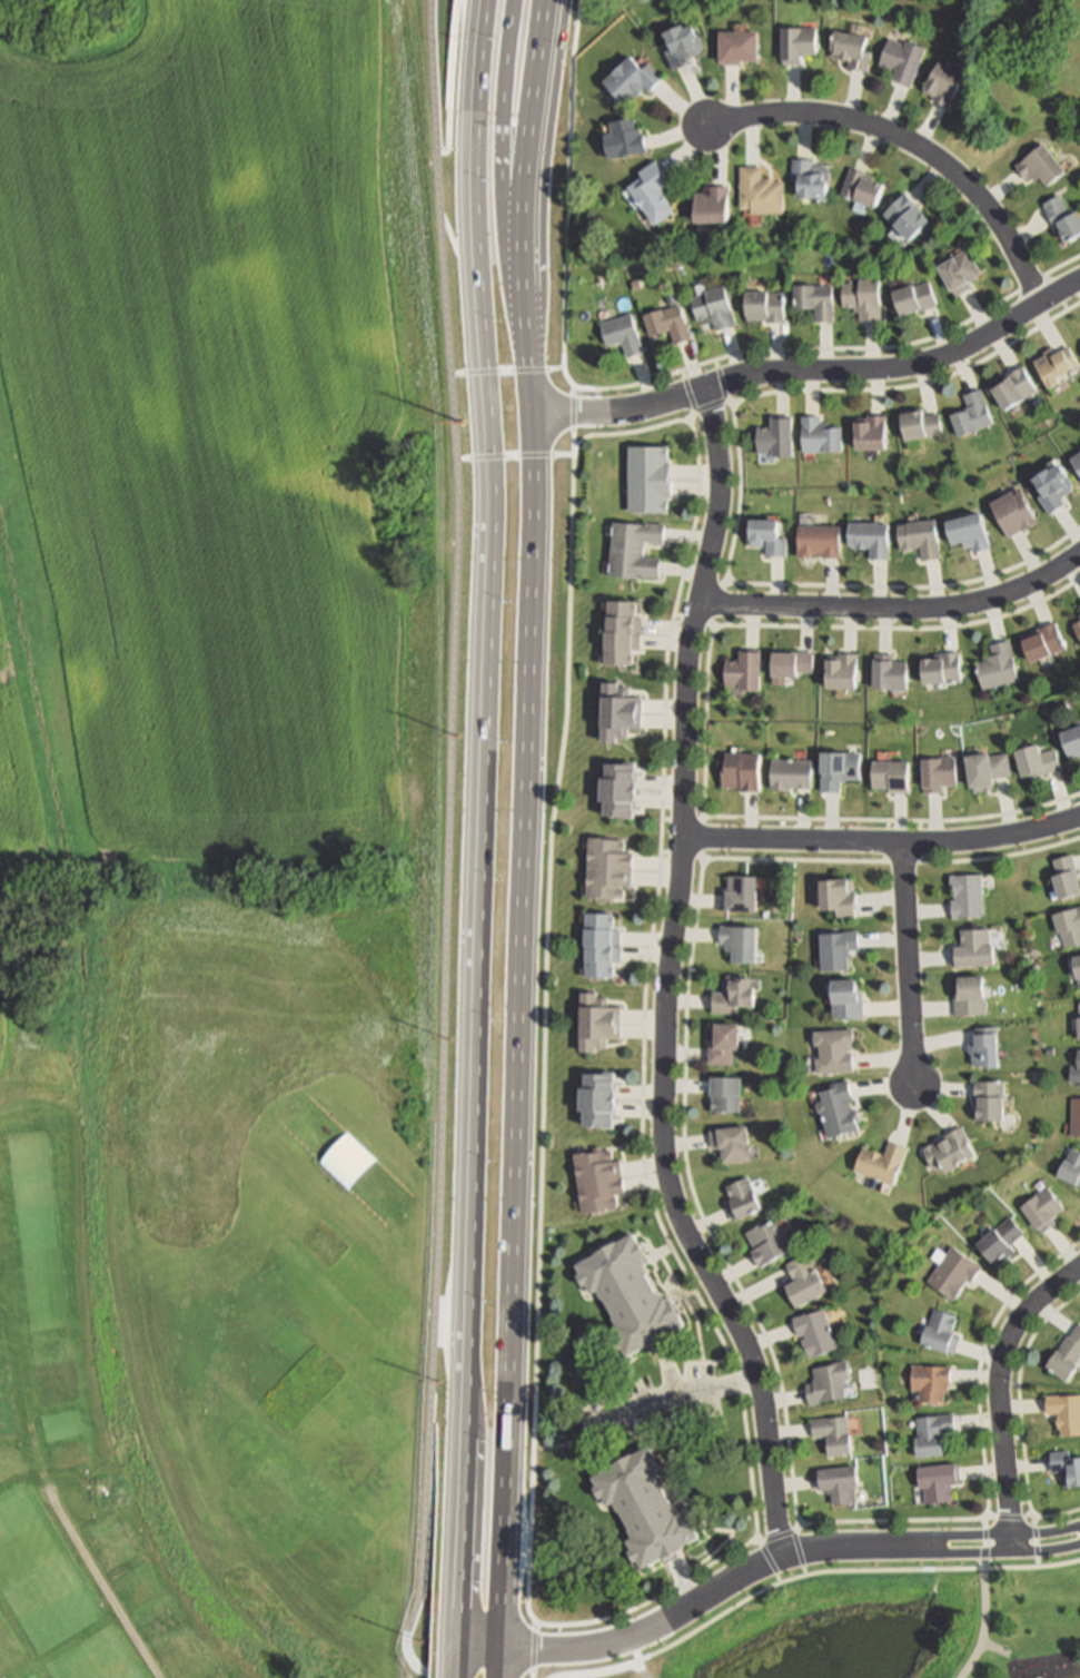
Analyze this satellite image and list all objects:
road: (479, 45)
building: (680, 45)
building: (793, 45)
building: (734, 47)
building: (846, 49)
building: (898, 60)
road: (450, 79)
building: (630, 80)
building: (938, 85)
road: (533, 116)
road: (503, 118)
building: (621, 139)
road: (909, 145)
building: (1038, 166)
building: (807, 178)
building: (860, 187)
building: (650, 193)
building: (757, 193)
building: (710, 205)
building: (902, 218)
building: (1061, 218)
road: (459, 255)
road: (1060, 266)
building: (958, 272)
building: (860, 298)
building: (913, 299)
building: (813, 300)
building: (762, 306)
building: (712, 307)
road: (1066, 308)
building: (665, 324)
building: (620, 334)
building: (1052, 365)
road: (505, 372)
road: (813, 374)
building: (1012, 388)
road: (608, 389)
road: (731, 404)
building: (971, 414)
road: (572, 416)
road: (690, 418)
power tower: (464, 422)
building: (916, 425)
building: (866, 434)
building: (815, 436)
building: (772, 437)
road: (513, 456)
building: (1074, 464)
building: (648, 477)
building: (1051, 487)
road: (739, 492)
building: (1011, 514)
building: (968, 533)
building: (761, 537)
building: (866, 539)
building: (918, 539)
building: (815, 542)
building: (628, 551)
road: (683, 579)
road: (724, 582)
road: (894, 608)
building: (1079, 608)
road: (675, 615)
building: (1079, 616)
road: (711, 625)
building: (1077, 631)
building: (617, 633)
building: (1043, 643)
building: (787, 664)
building: (995, 667)
building: (940, 671)
building: (742, 672)
building: (839, 673)
building: (888, 675)
building: (613, 713)
road: (703, 722)
power tower: (457, 732)
road: (523, 736)
building: (1071, 743)
building: (1034, 762)
road: (482, 766)
building: (834, 770)
building: (984, 770)
building: (736, 771)
building: (786, 773)
building: (937, 773)
building: (886, 777)
building: (613, 790)
road: (701, 817)
road: (663, 820)
road: (885, 825)
road: (918, 825)
road: (448, 833)
park: (206, 841)
road: (882, 842)
road: (662, 852)
road: (999, 857)
road: (701, 858)
building: (603, 868)
building: (1062, 878)
building: (963, 896)
building: (735, 897)
building: (834, 900)
building: (1068, 929)
building: (736, 944)
building: (598, 946)
building: (970, 950)
building: (833, 951)
road: (908, 967)
building: (1076, 969)
road: (665, 979)
building: (729, 997)
building: (968, 997)
building: (842, 1003)
building: (1077, 1021)
building: (595, 1023)
power tower: (453, 1043)
building: (717, 1045)
building: (981, 1049)
building: (830, 1053)
building: (1074, 1073)
building: (721, 1095)
building: (987, 1100)
building: (593, 1102)
building: (834, 1108)
building: (1073, 1117)
building: (726, 1145)
building: (945, 1152)
building: (347, 1159)
building: (879, 1163)
building: (1070, 1167)
building: (597, 1178)
building: (737, 1200)
building: (1041, 1211)
building: (998, 1242)
building: (764, 1244)
road: (658, 1253)
building: (951, 1273)
building: (799, 1283)
road: (681, 1296)
building: (624, 1297)
road: (686, 1306)
building: (938, 1332)
building: (811, 1335)
road: (765, 1345)
building: (1063, 1355)
road: (705, 1364)
building: (866, 1379)
power tower: (439, 1381)
building: (925, 1383)
building: (823, 1384)
road: (998, 1388)
road: (670, 1395)
parking lot: (651, 1403)
building: (1064, 1413)
road: (1020, 1415)
building: (830, 1433)
building: (929, 1435)
road: (507, 1459)
building: (1066, 1469)
building: (935, 1483)
building: (836, 1485)
building: (645, 1507)
road: (989, 1516)
road: (1028, 1516)
road: (1008, 1519)
road: (1033, 1521)
road: (983, 1522)
road: (795, 1526)
road: (776, 1536)
road: (755, 1540)
road: (732, 1542)
road: (1033, 1542)
road: (984, 1543)
road: (460, 1546)
road: (793, 1550)
road: (1037, 1562)
road: (984, 1563)
road: (802, 1571)
road: (845, 1571)
road: (776, 1579)
road: (102, 1587)
road: (667, 1589)
park: (1022, 1618)
road: (982, 1626)
road: (533, 1635)
road: (494, 1650)
road: (455, 1664)
road: (533, 1665)
road: (419, 1669)
road: (608, 1670)
road: (406, 1671)

